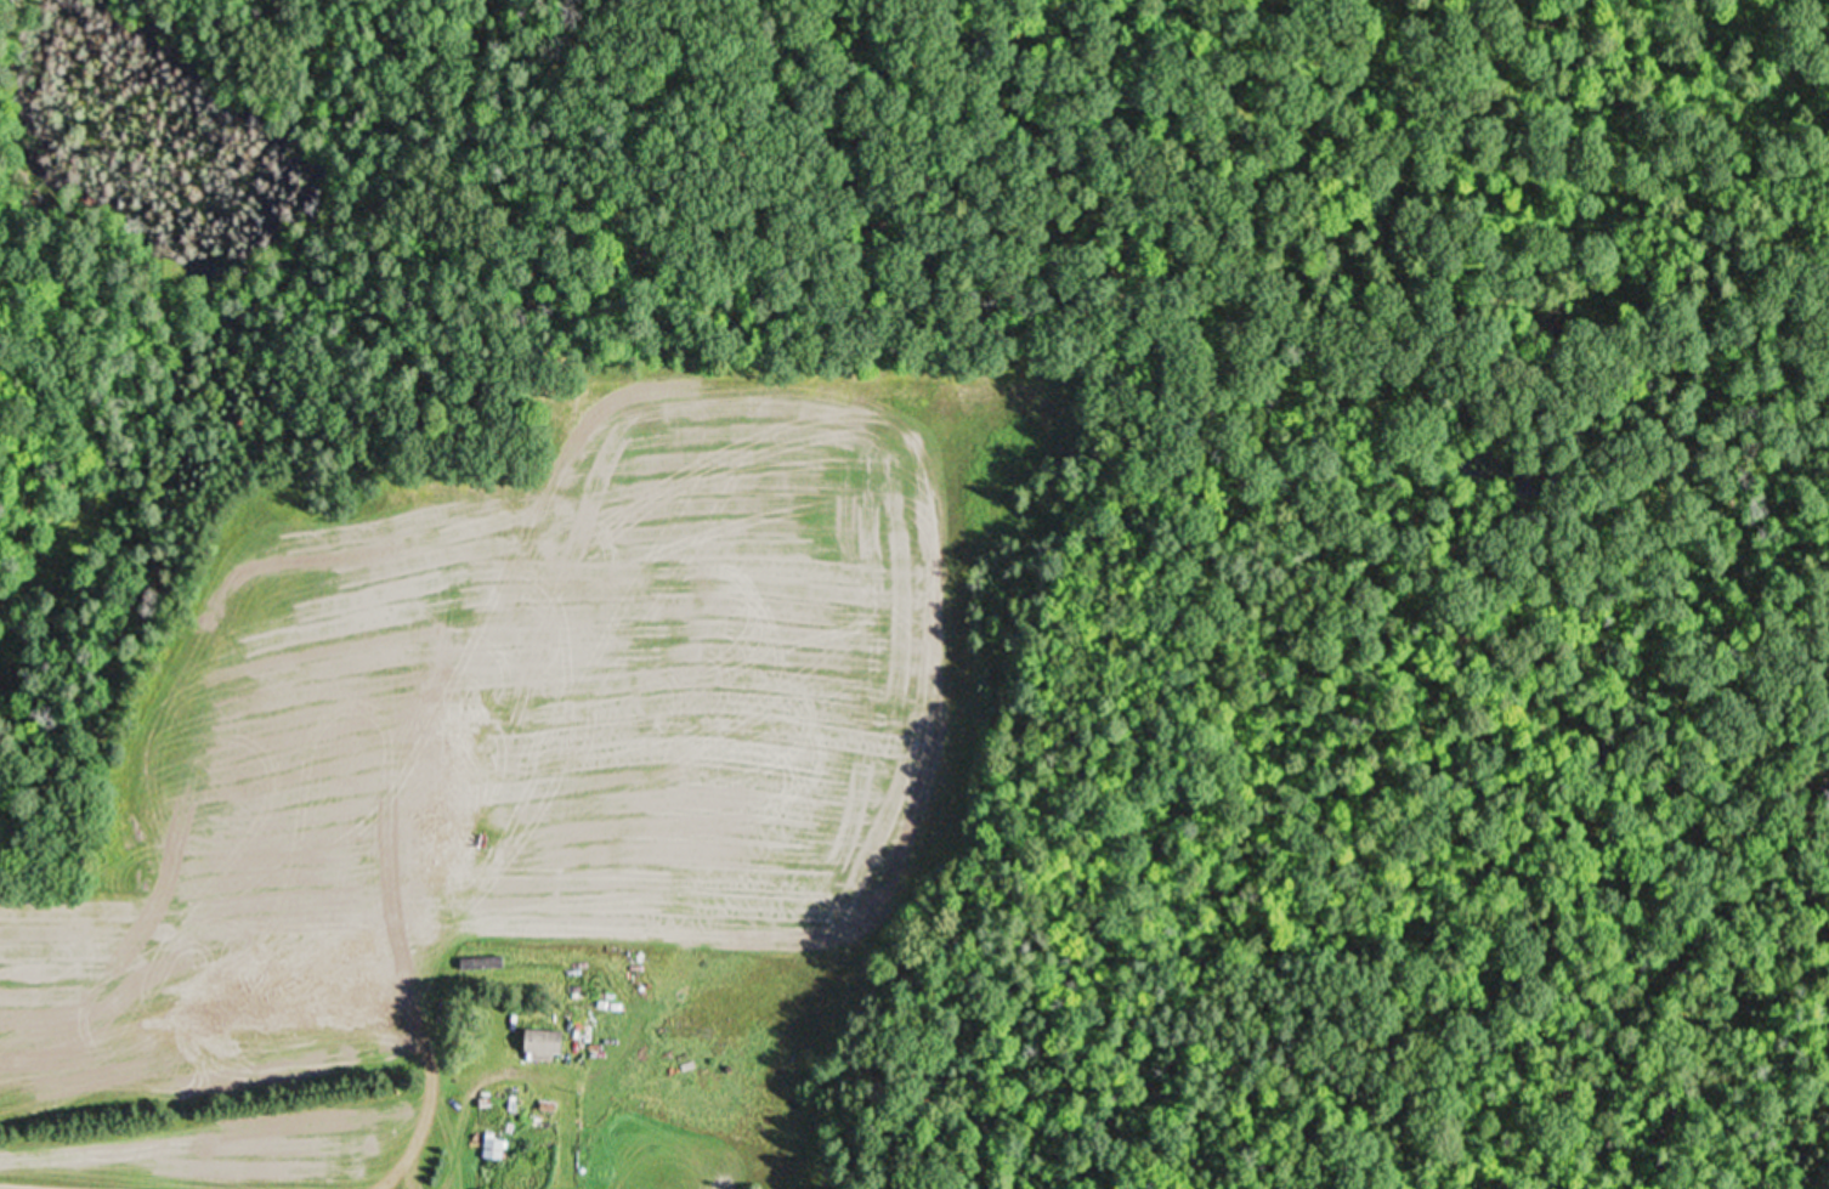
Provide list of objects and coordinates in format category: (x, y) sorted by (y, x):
road: (463, 1120)
road: (30, 1187)

